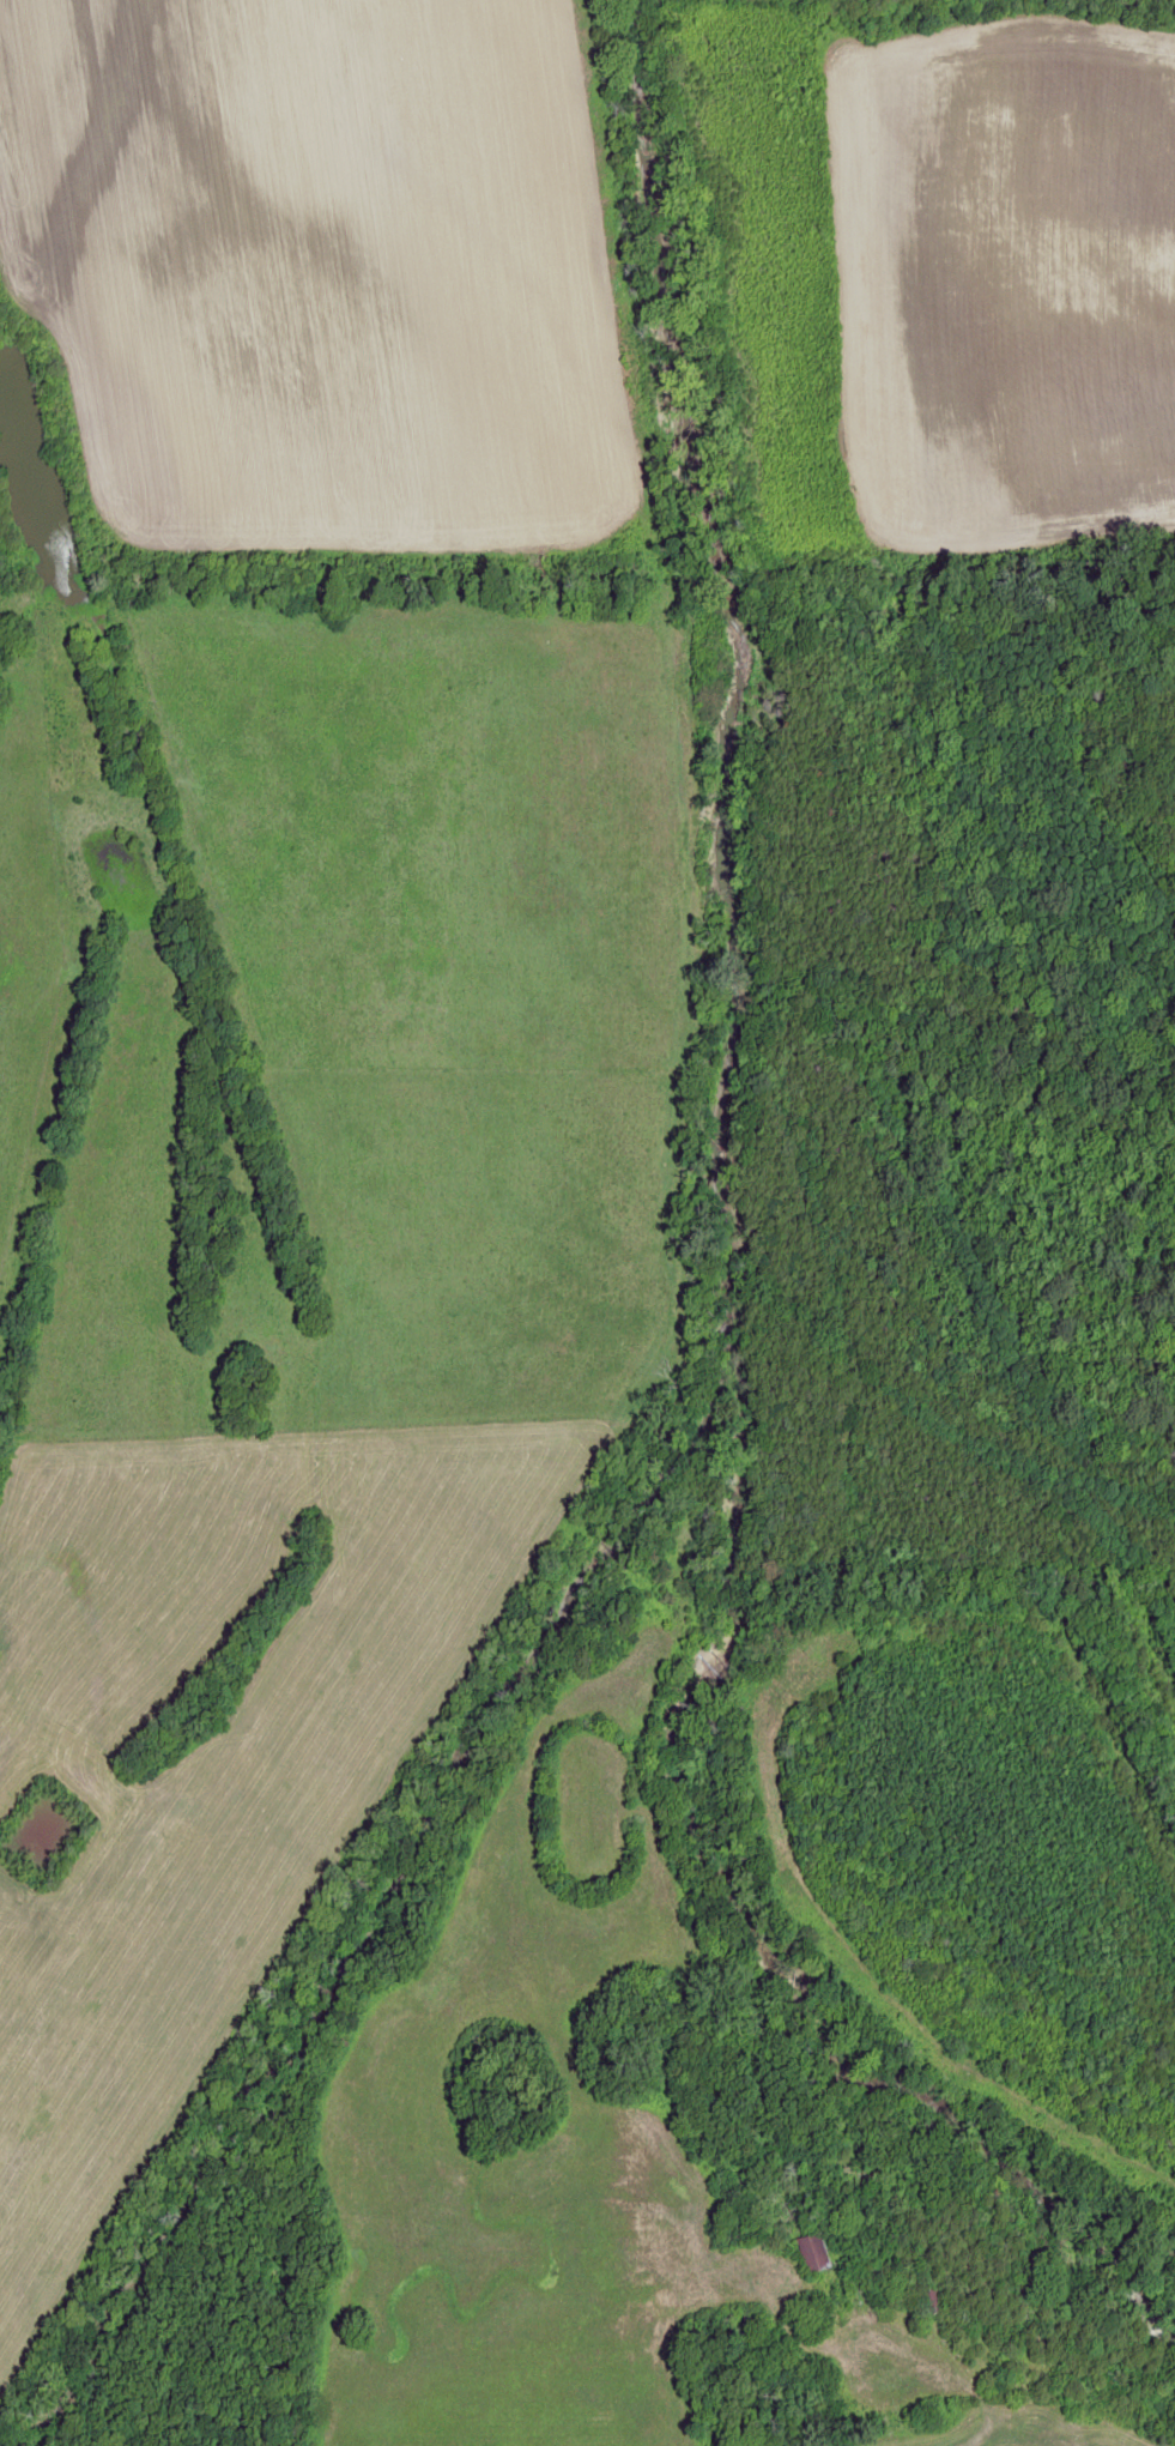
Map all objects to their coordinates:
road: (647, 1294)
building: (812, 2253)
building: (932, 2302)
road: (975, 2430)

